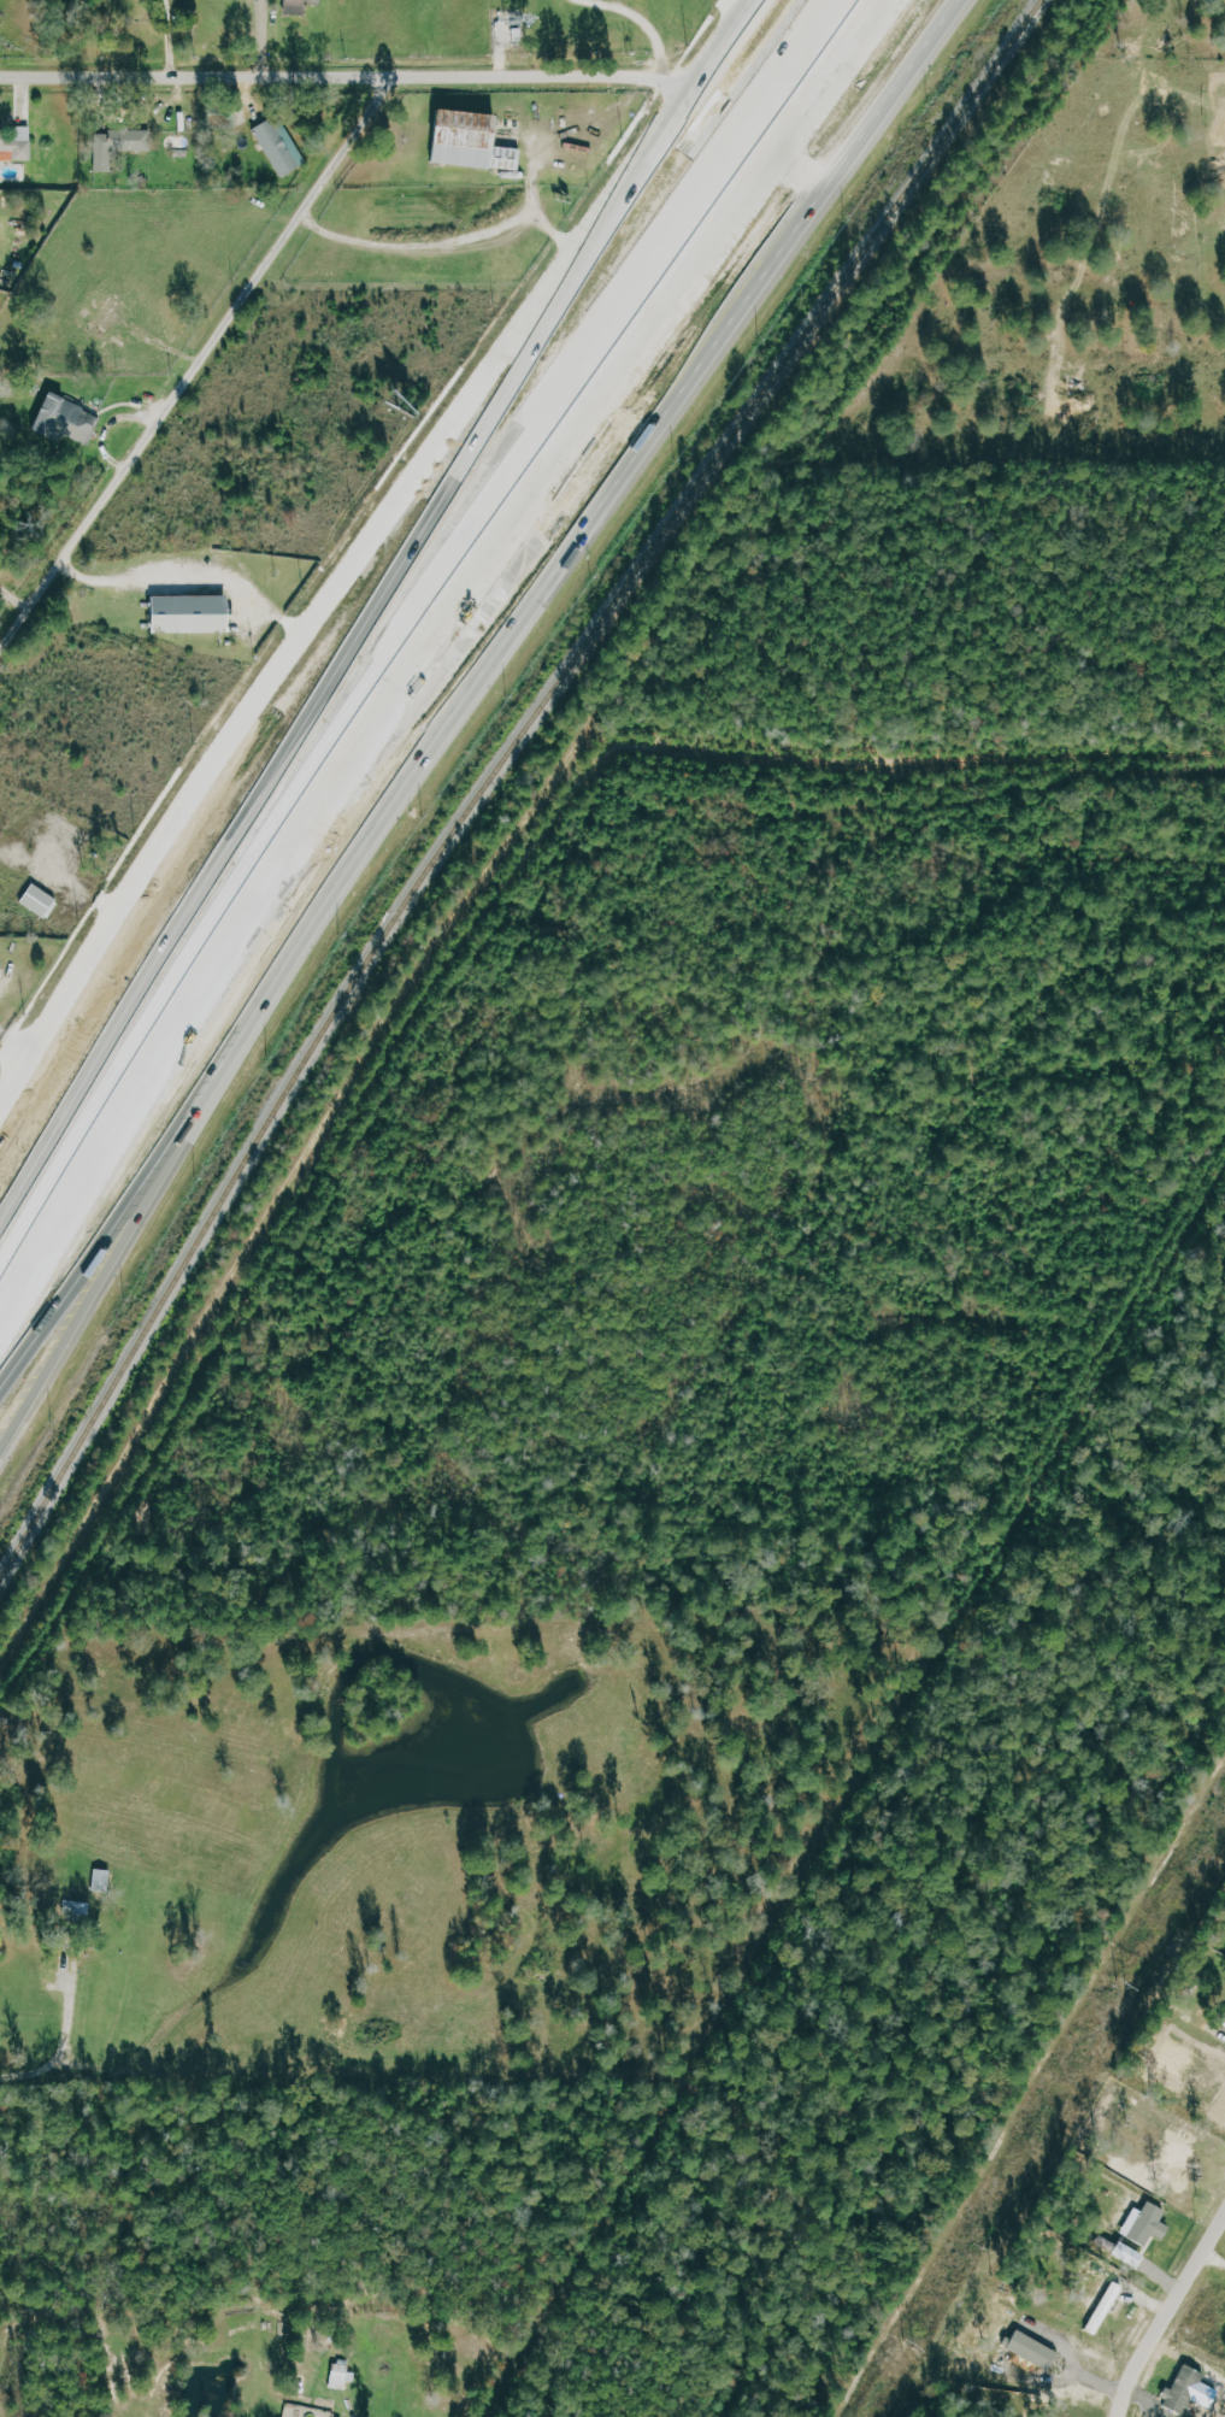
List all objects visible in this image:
building: (304, 6)
road: (652, 20)
road: (171, 40)
road: (722, 49)
road: (343, 81)
road: (899, 99)
building: (478, 142)
building: (20, 143)
building: (283, 146)
building: (120, 147)
road: (520, 318)
road: (195, 367)
road: (614, 405)
building: (71, 421)
road: (491, 437)
road: (614, 501)
road: (552, 542)
building: (199, 614)
road: (406, 616)
road: (271, 666)
railway: (494, 772)
building: (43, 901)
road: (90, 947)
building: (2, 969)
road: (14, 1039)
road: (160, 1077)
road: (194, 1128)
building: (78, 1909)
power tower: (1118, 1984)
road: (66, 2047)
building: (1143, 2224)
building: (1125, 2254)
building: (1103, 2309)
road: (1177, 2331)
power tower: (908, 2348)
building: (1029, 2350)
building: (344, 2377)
building: (1180, 2389)

